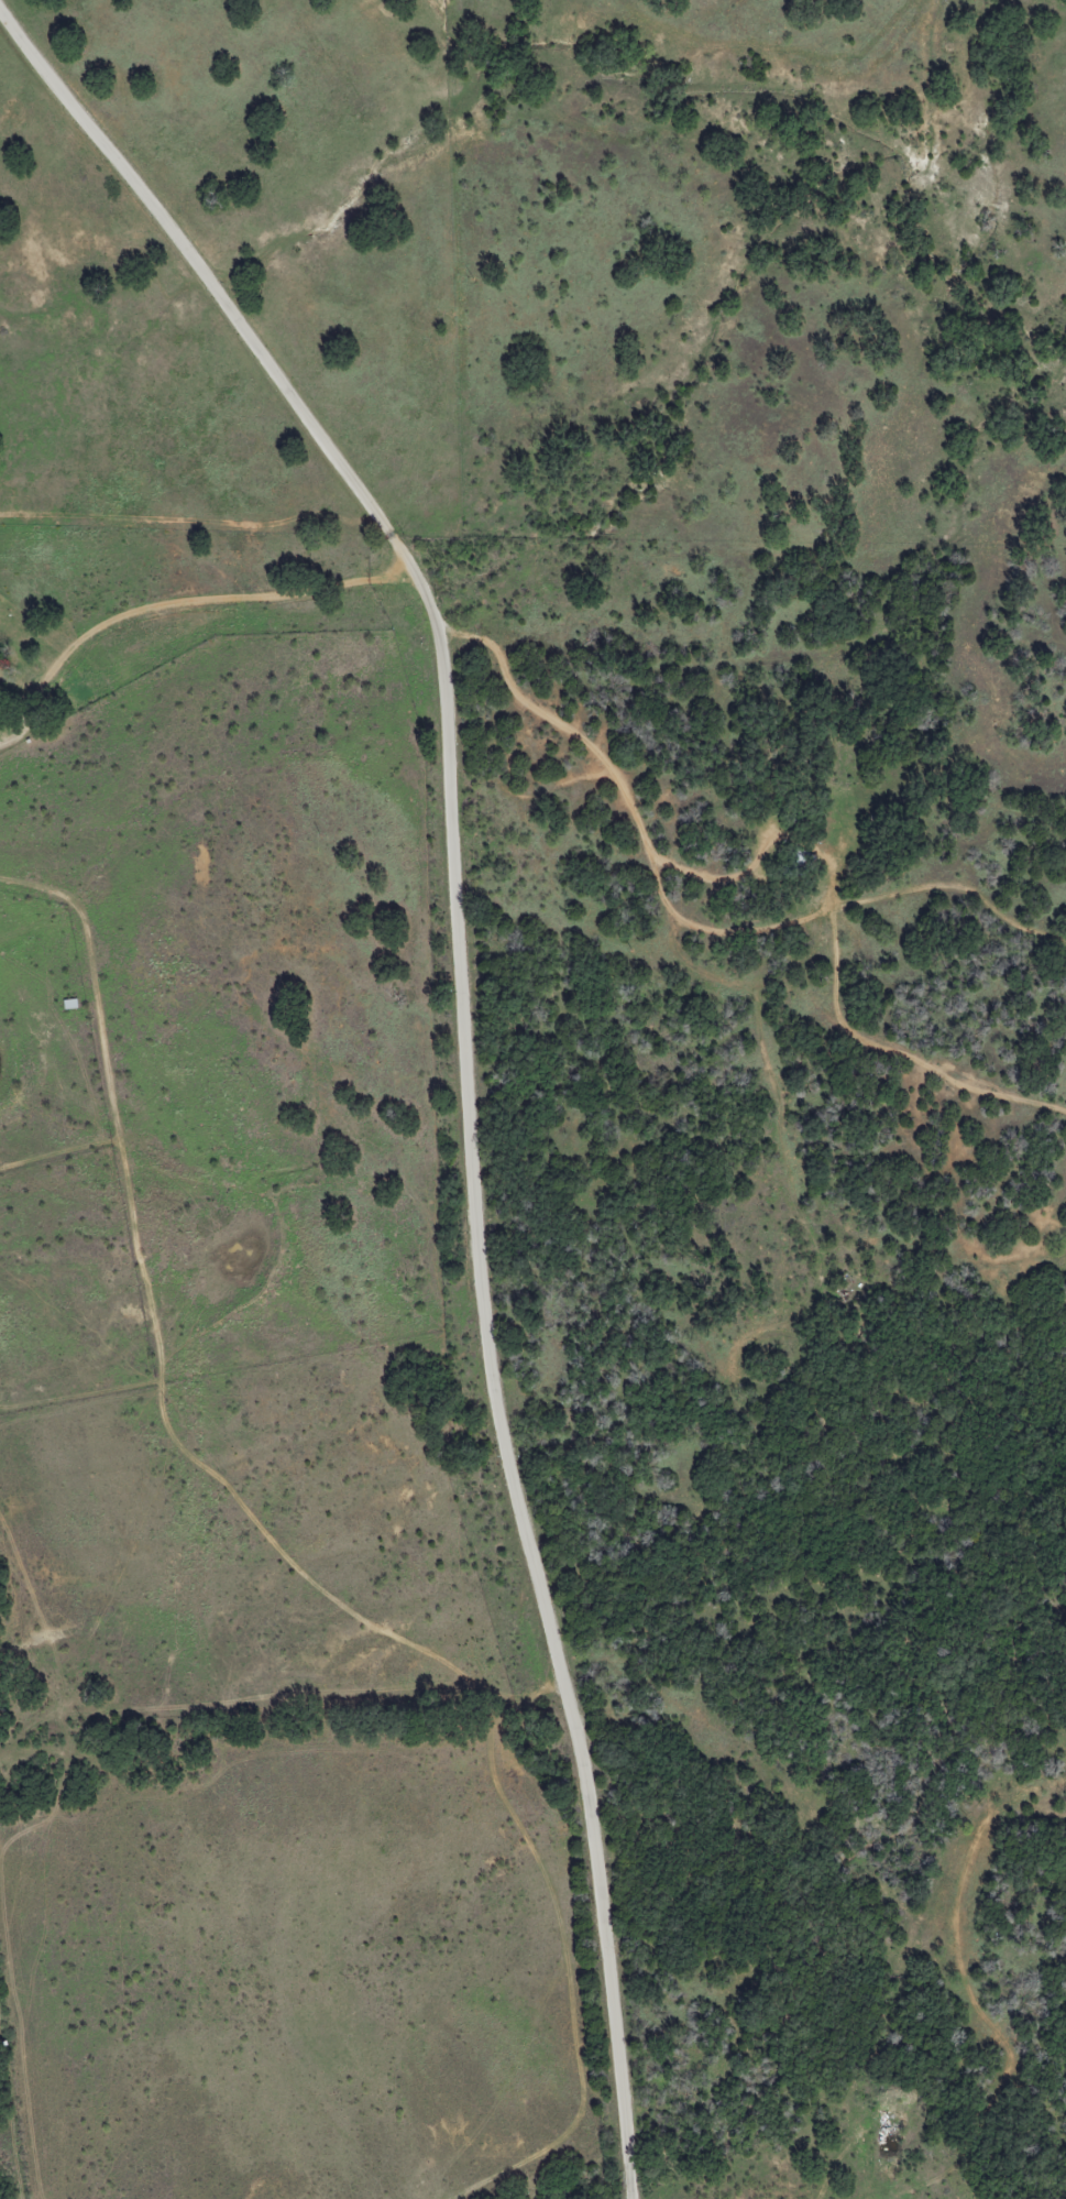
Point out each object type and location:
road: (464, 1038)

